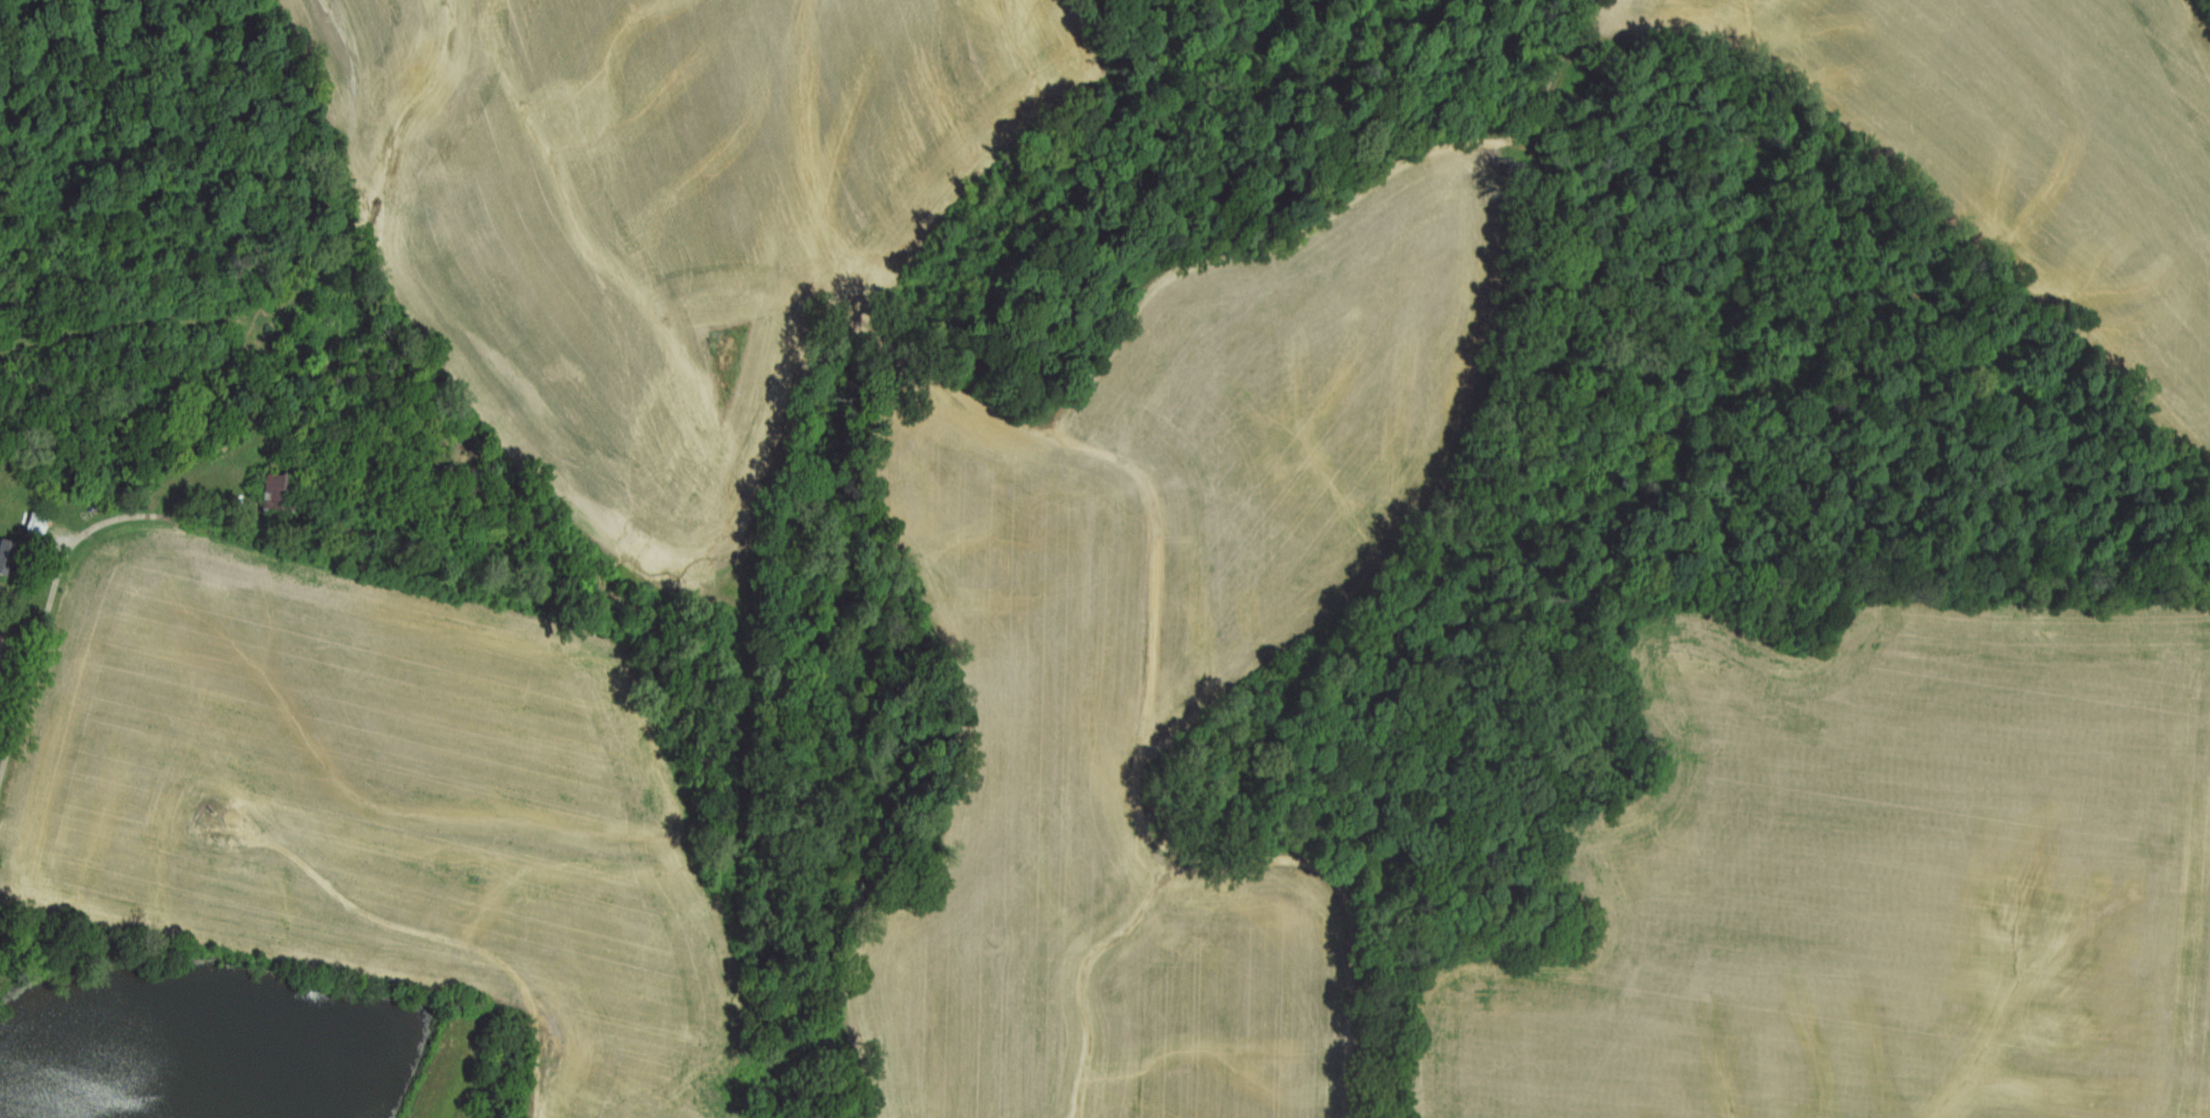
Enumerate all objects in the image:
road: (1367, 162)
building: (280, 491)
building: (42, 525)
building: (10, 558)
road: (1158, 558)
road: (60, 572)
road: (354, 964)

